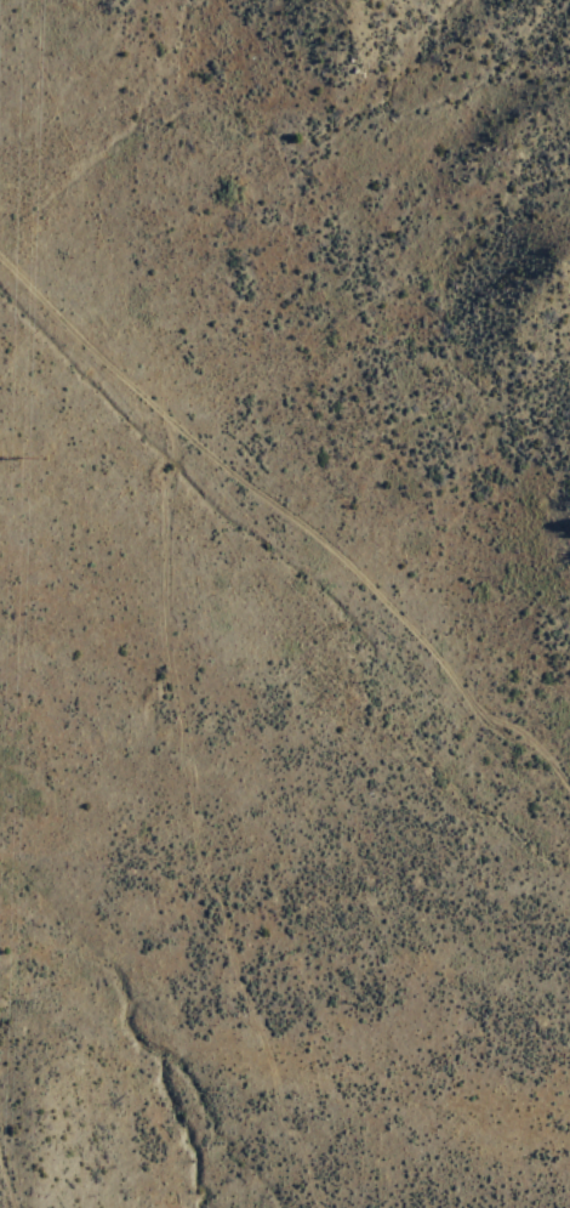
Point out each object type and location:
power tower: (2, 464)
road: (290, 520)
crop: (257, 795)

